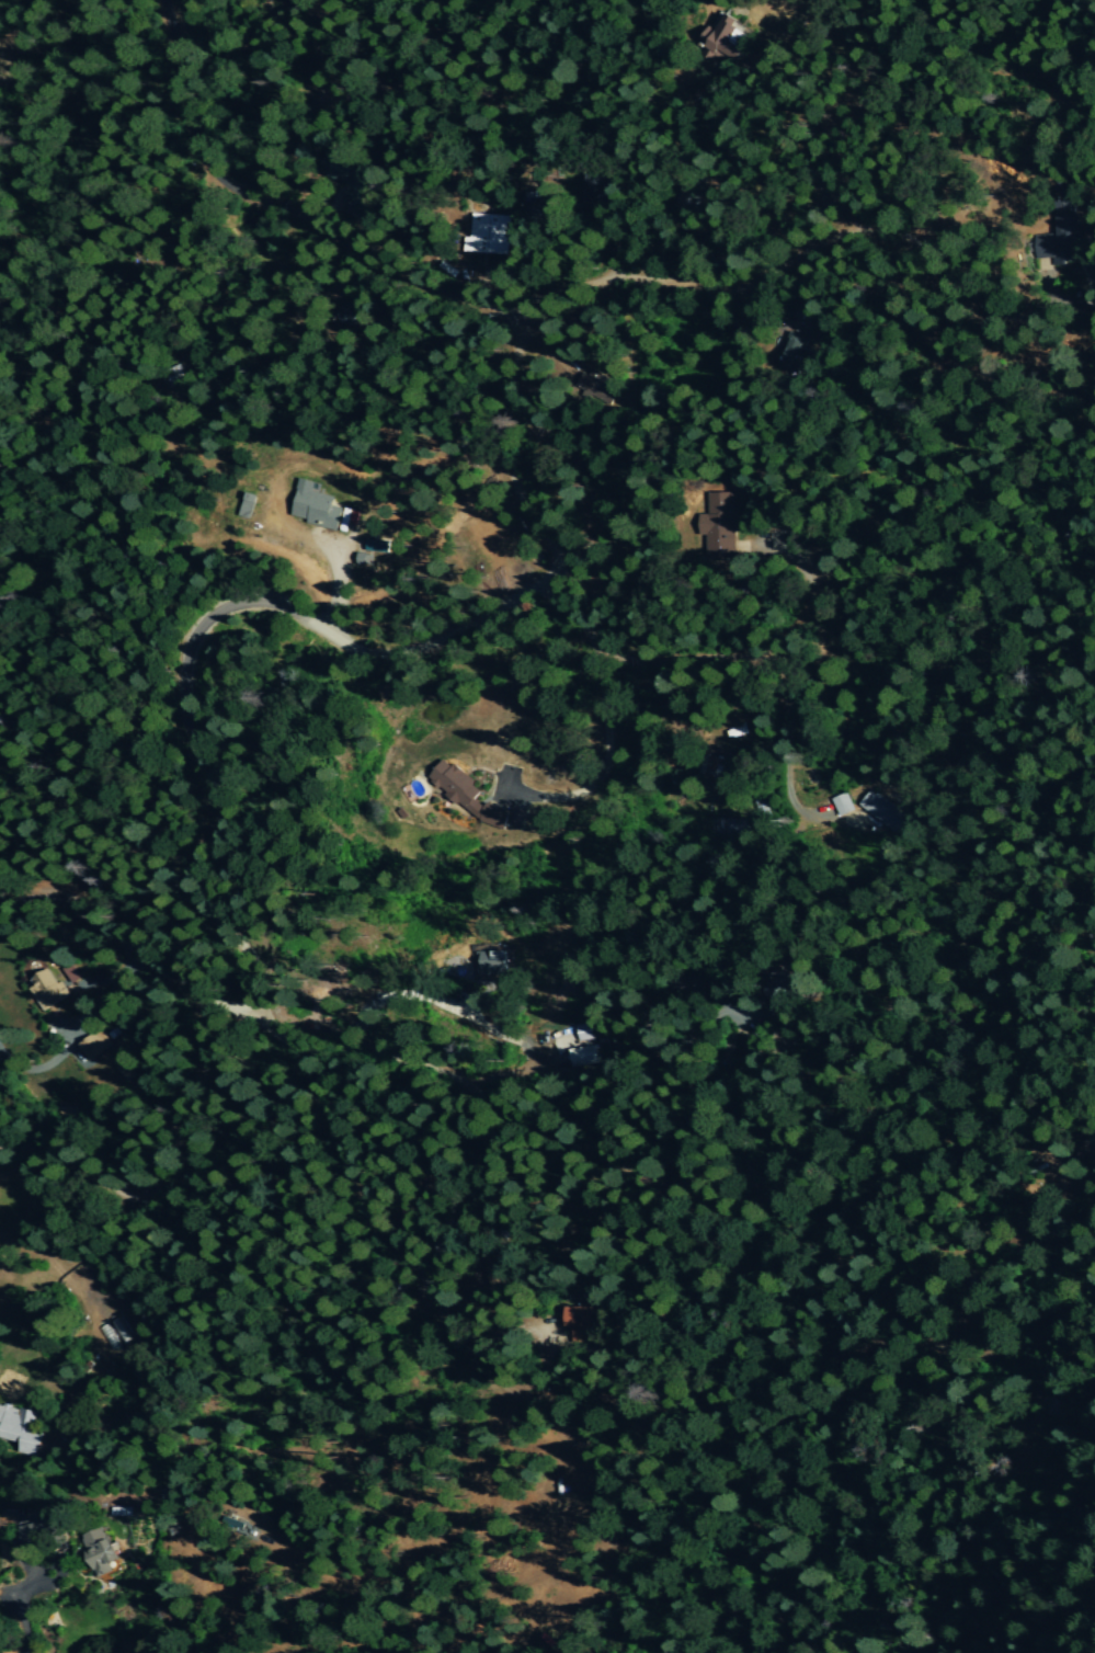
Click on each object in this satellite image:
building: (730, 39)
road: (813, 150)
road: (203, 159)
building: (351, 179)
building: (603, 186)
road: (323, 209)
building: (489, 233)
building: (1060, 240)
road: (614, 246)
road: (332, 256)
building: (441, 267)
road: (943, 276)
road: (401, 281)
road: (475, 282)
road: (802, 290)
building: (351, 307)
road: (489, 314)
road: (544, 342)
building: (798, 356)
building: (600, 385)
building: (248, 505)
building: (319, 508)
building: (721, 526)
building: (377, 546)
road: (337, 584)
road: (802, 598)
road: (458, 632)
road: (711, 659)
road: (602, 756)
building: (472, 797)
building: (843, 805)
building: (883, 811)
road: (829, 819)
road: (779, 823)
building: (728, 827)
building: (492, 965)
road: (147, 970)
building: (47, 989)
building: (585, 1031)
road: (79, 1033)
building: (94, 1045)
road: (319, 1047)
road: (537, 1051)
building: (582, 1056)
building: (67, 1109)
road: (163, 1176)
road: (507, 1301)
building: (575, 1323)
road: (548, 1409)
building: (20, 1430)
building: (39, 1531)
road: (13, 1608)

